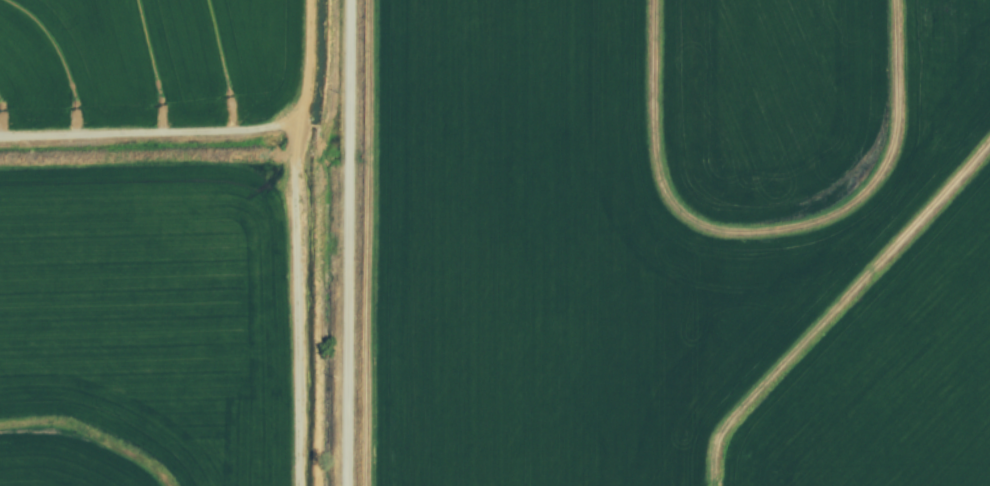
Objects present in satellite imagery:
road: (345, 242)

